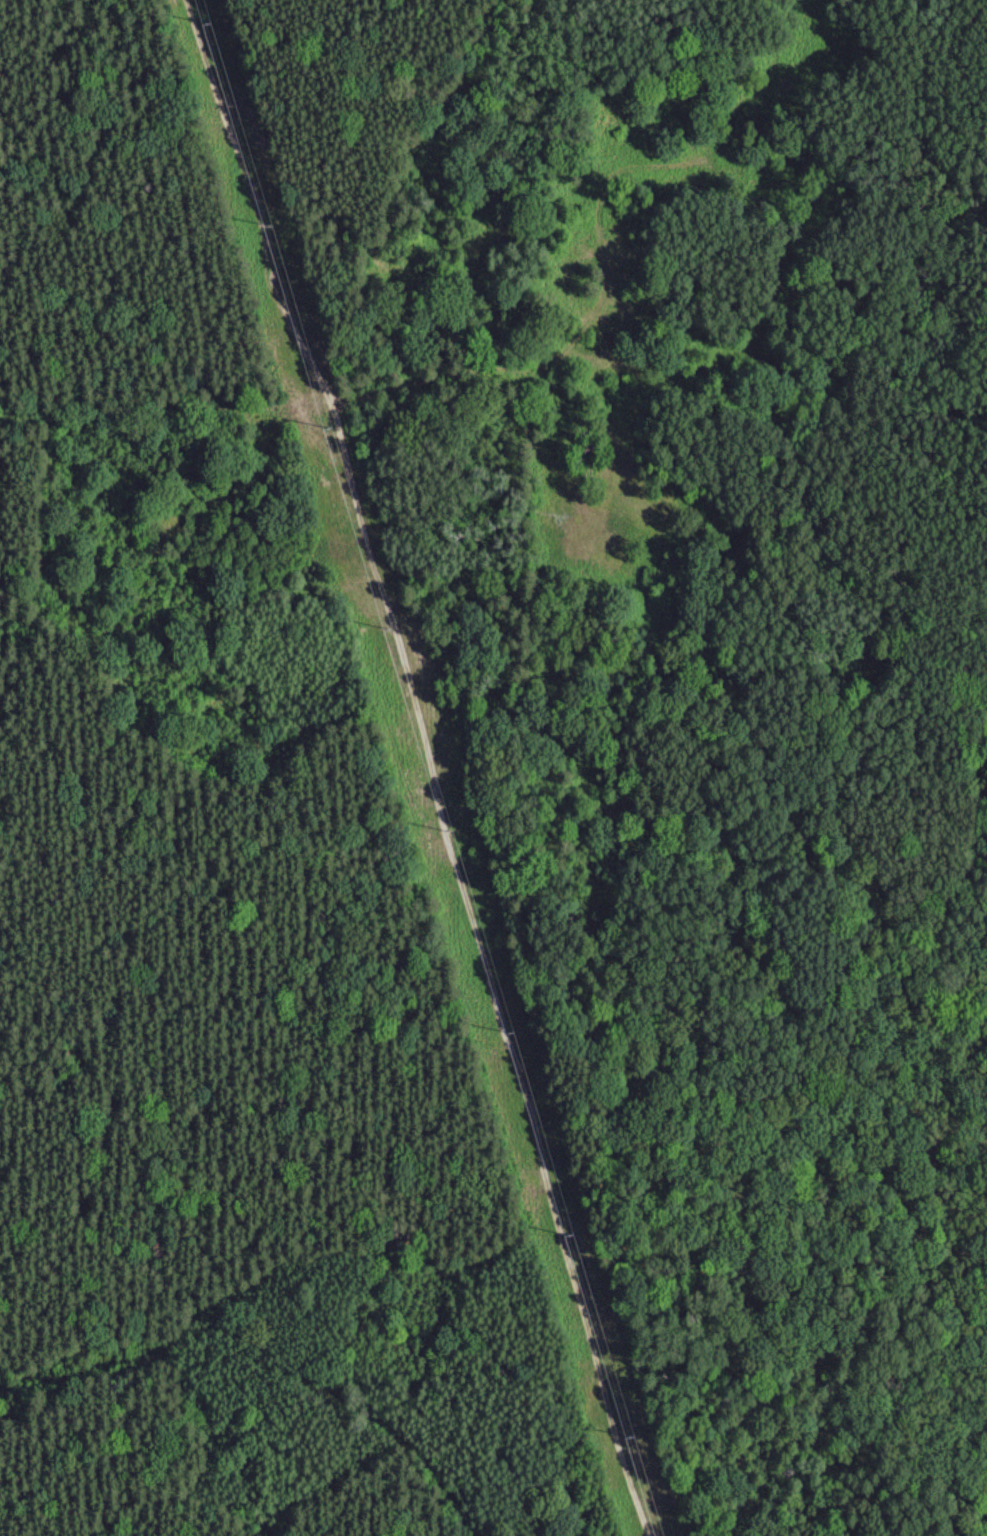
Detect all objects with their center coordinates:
road: (598, 245)
road: (432, 764)
road: (947, 1172)

